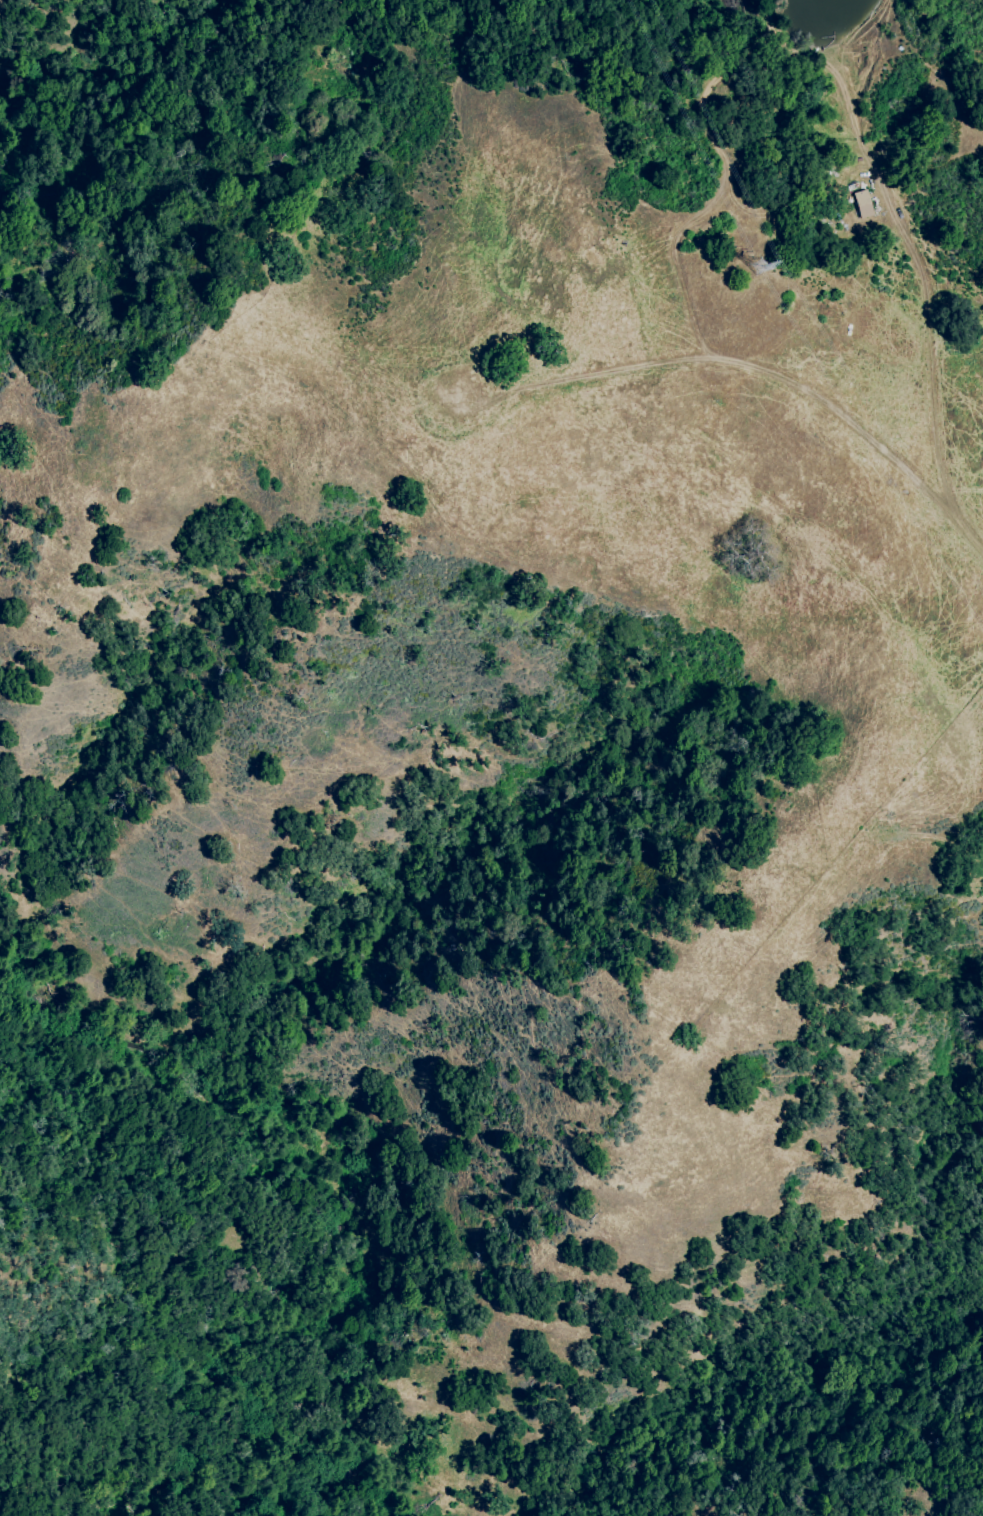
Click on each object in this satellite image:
building: (858, 205)
power tower: (748, 265)

